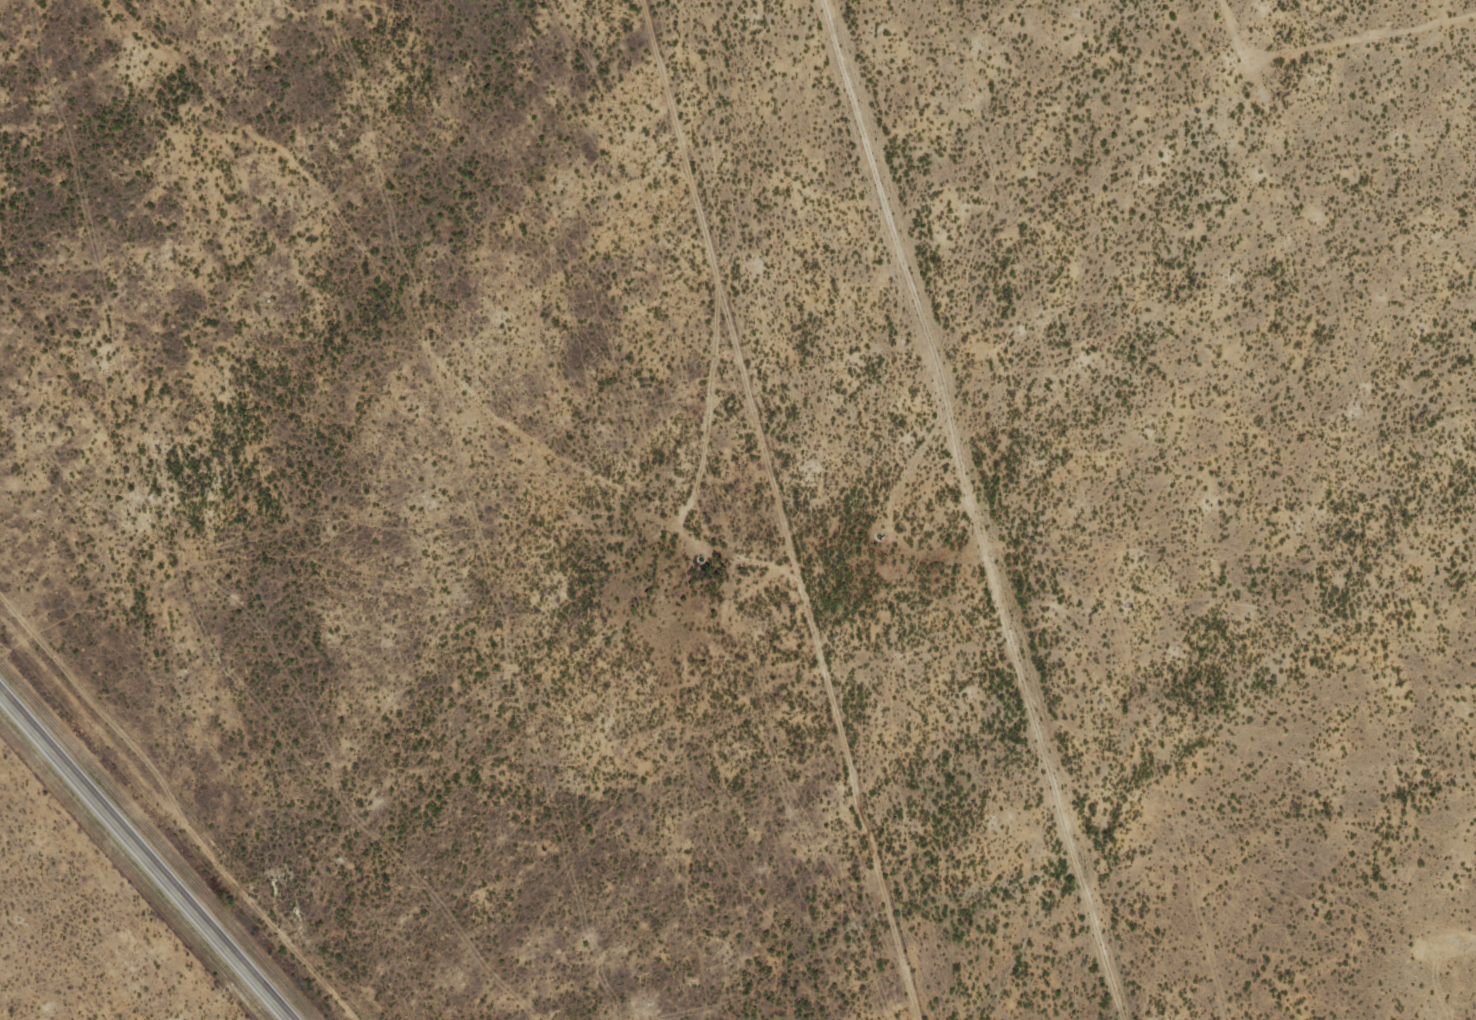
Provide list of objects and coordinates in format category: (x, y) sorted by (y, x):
road: (145, 856)

